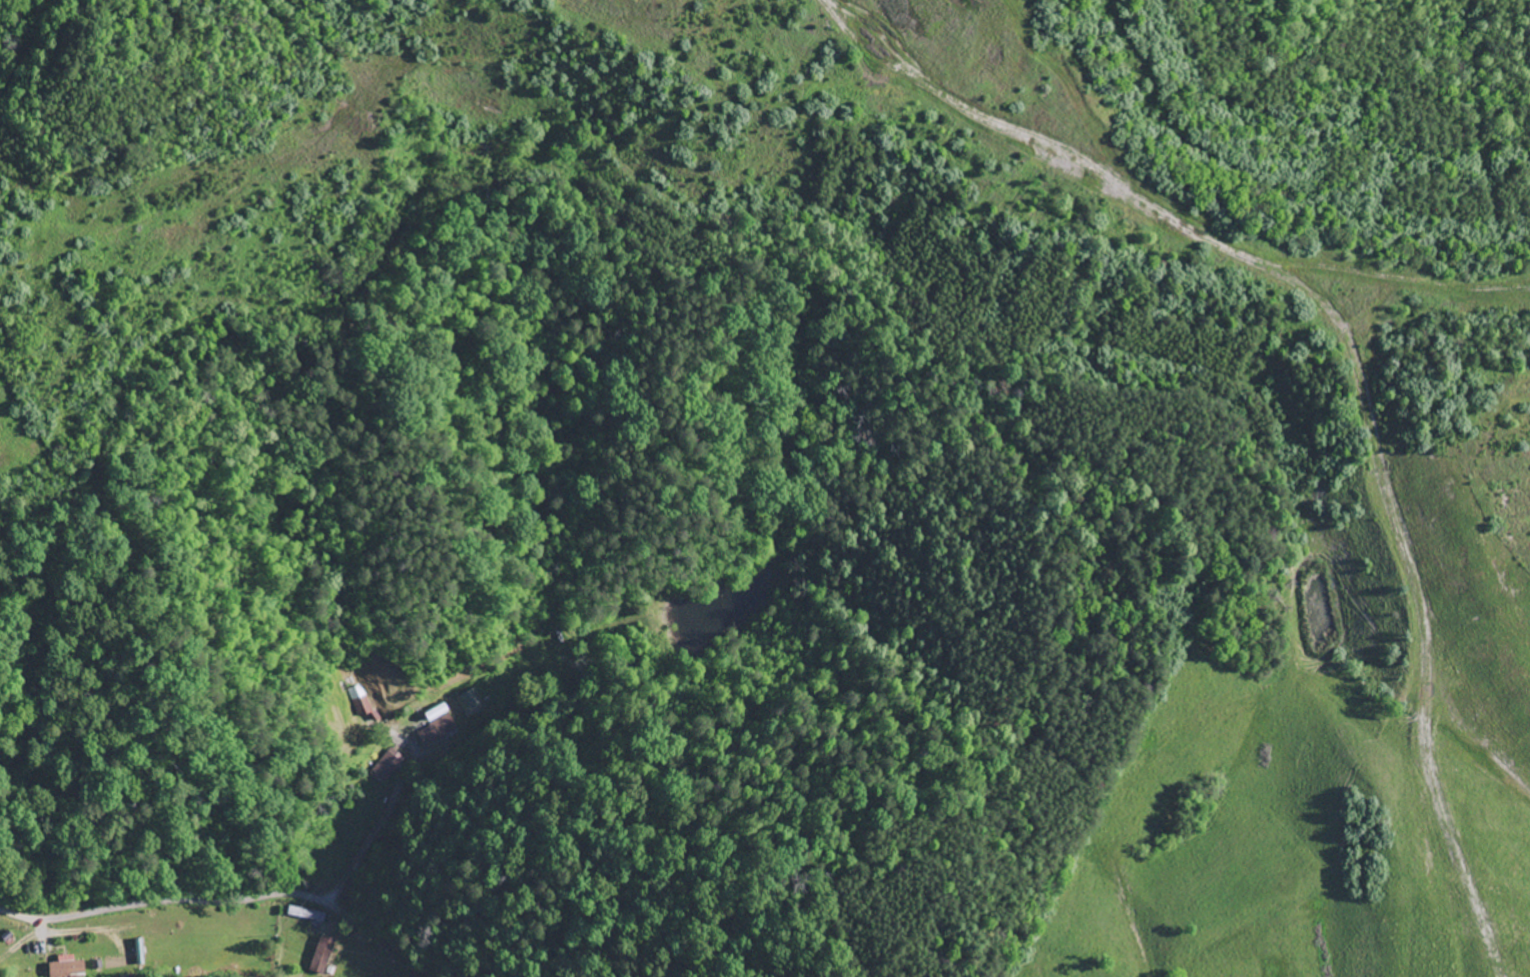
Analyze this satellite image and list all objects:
building: (471, 704)
building: (440, 728)
building: (388, 766)
road: (165, 900)
building: (310, 915)
building: (324, 956)
building: (68, 968)

